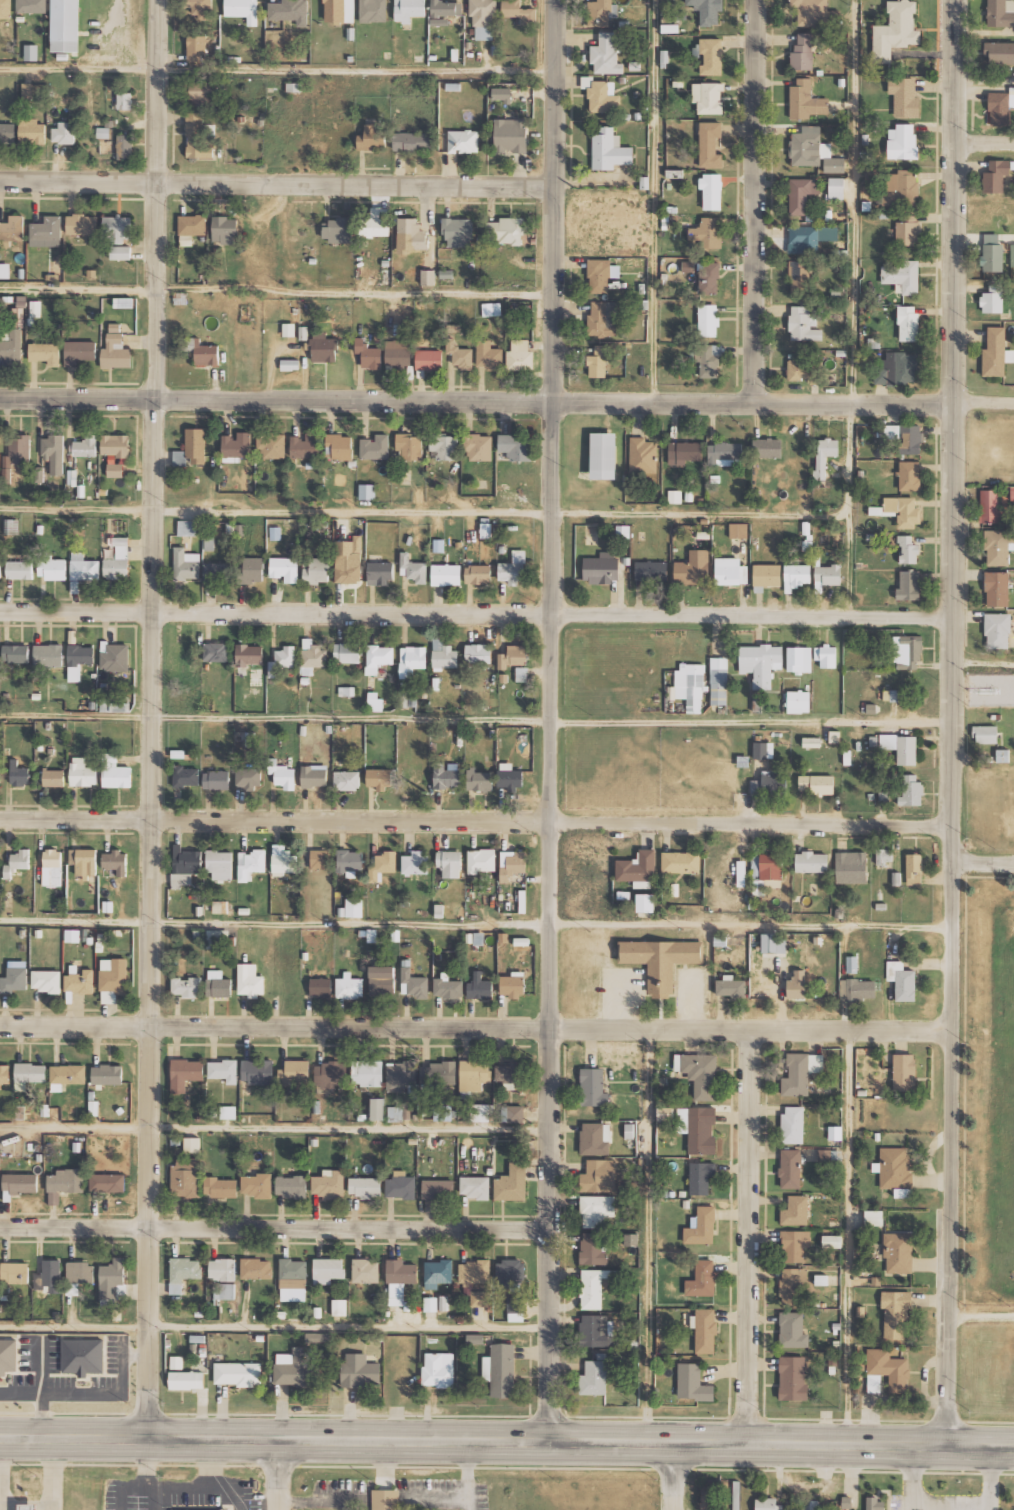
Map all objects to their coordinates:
building: (31, 6)
building: (200, 7)
building: (5, 9)
building: (243, 9)
building: (340, 10)
building: (373, 10)
building: (409, 10)
building: (444, 10)
building: (707, 10)
building: (290, 11)
building: (519, 11)
building: (812, 11)
building: (600, 12)
building: (1001, 12)
building: (483, 18)
building: (65, 25)
building: (896, 30)
building: (196, 48)
building: (803, 52)
building: (1000, 52)
building: (606, 54)
building: (710, 56)
road: (279, 71)
building: (294, 87)
building: (202, 93)
building: (502, 93)
building: (604, 96)
building: (708, 97)
building: (905, 97)
building: (124, 100)
building: (806, 100)
building: (1001, 105)
building: (32, 131)
building: (7, 132)
building: (103, 132)
building: (64, 133)
building: (511, 135)
building: (197, 137)
building: (371, 137)
building: (463, 141)
building: (414, 142)
building: (902, 142)
road: (986, 142)
building: (710, 144)
building: (124, 146)
building: (610, 150)
building: (814, 150)
building: (996, 175)
road: (279, 183)
building: (837, 188)
building: (901, 188)
building: (712, 190)
building: (802, 194)
road: (649, 201)
road: (757, 202)
road: (848, 202)
building: (376, 223)
building: (82, 224)
building: (12, 226)
building: (47, 228)
building: (117, 228)
building: (191, 228)
building: (225, 229)
building: (337, 230)
building: (506, 230)
building: (907, 231)
building: (459, 232)
building: (709, 232)
building: (411, 236)
building: (810, 238)
building: (120, 252)
building: (993, 253)
building: (1012, 255)
building: (5, 270)
building: (799, 275)
building: (903, 275)
building: (599, 276)
building: (428, 277)
building: (710, 278)
road: (278, 292)
building: (993, 300)
building: (124, 302)
building: (35, 309)
building: (491, 309)
building: (602, 319)
building: (708, 320)
building: (909, 323)
building: (804, 324)
building: (305, 333)
building: (10, 347)
building: (116, 349)
building: (324, 349)
building: (201, 351)
building: (80, 352)
building: (398, 352)
building: (46, 353)
building: (996, 353)
building: (369, 354)
building: (460, 354)
building: (489, 355)
building: (520, 356)
building: (429, 359)
building: (709, 360)
building: (598, 362)
building: (290, 364)
building: (805, 368)
building: (897, 369)
road: (477, 400)
road: (984, 403)
building: (892, 432)
building: (911, 439)
building: (272, 444)
building: (115, 445)
building: (196, 446)
building: (306, 446)
building: (410, 446)
building: (444, 446)
building: (515, 446)
building: (86, 447)
building: (236, 447)
building: (339, 447)
building: (375, 447)
building: (479, 447)
building: (768, 448)
building: (16, 453)
building: (54, 453)
building: (684, 453)
building: (725, 454)
building: (643, 455)
building: (825, 455)
building: (604, 456)
building: (115, 470)
building: (910, 475)
building: (368, 491)
building: (1012, 493)
building: (991, 507)
road: (844, 509)
building: (876, 510)
building: (904, 510)
road: (422, 513)
building: (187, 527)
building: (486, 530)
building: (739, 530)
building: (275, 533)
building: (209, 543)
building: (439, 545)
building: (999, 546)
building: (908, 549)
building: (118, 560)
building: (348, 560)
building: (186, 564)
building: (52, 568)
building: (514, 568)
building: (602, 568)
building: (694, 568)
building: (0, 569)
building: (20, 569)
building: (285, 569)
building: (413, 569)
building: (82, 570)
building: (317, 571)
building: (650, 571)
building: (731, 571)
building: (381, 573)
building: (478, 574)
building: (447, 575)
building: (767, 576)
building: (797, 576)
building: (827, 577)
building: (909, 586)
building: (997, 589)
road: (476, 611)
building: (998, 631)
building: (216, 652)
building: (908, 652)
building: (16, 653)
building: (347, 653)
building: (249, 654)
building: (479, 654)
building: (48, 655)
building: (444, 655)
building: (514, 656)
building: (826, 656)
building: (312, 657)
building: (379, 658)
building: (799, 659)
building: (79, 660)
building: (282, 660)
building: (412, 660)
building: (761, 663)
road: (983, 664)
building: (522, 674)
building: (256, 675)
building: (719, 681)
building: (689, 686)
building: (347, 691)
building: (374, 701)
building: (799, 701)
building: (115, 707)
road: (156, 718)
road: (554, 720)
road: (475, 721)
road: (951, 723)
building: (986, 734)
building: (835, 736)
building: (812, 742)
building: (902, 747)
building: (761, 750)
building: (116, 772)
building: (82, 773)
building: (19, 774)
building: (283, 774)
building: (186, 776)
building: (314, 776)
building: (248, 777)
building: (447, 777)
building: (510, 777)
building: (0, 778)
building: (54, 778)
building: (380, 779)
building: (216, 780)
building: (347, 780)
building: (479, 781)
building: (775, 784)
building: (818, 784)
building: (912, 791)
road: (474, 822)
building: (884, 855)
building: (283, 859)
building: (319, 859)
building: (84, 861)
building: (482, 861)
building: (681, 861)
building: (812, 861)
building: (116, 862)
building: (350, 862)
building: (18, 863)
building: (415, 863)
building: (450, 863)
road: (983, 863)
building: (251, 864)
building: (512, 864)
building: (220, 865)
building: (384, 865)
building: (637, 866)
building: (771, 866)
building: (852, 866)
building: (52, 868)
building: (915, 869)
building: (742, 873)
building: (897, 877)
building: (761, 886)
building: (646, 903)
building: (881, 905)
building: (220, 907)
building: (354, 908)
road: (276, 925)
road: (752, 926)
building: (73, 936)
building: (475, 938)
building: (504, 938)
building: (218, 939)
building: (521, 944)
building: (774, 944)
building: (662, 960)
building: (114, 975)
building: (15, 977)
building: (79, 980)
building: (382, 980)
building: (46, 981)
building: (251, 981)
building: (902, 981)
building: (413, 982)
building: (218, 984)
building: (514, 985)
building: (797, 985)
building: (186, 987)
building: (350, 987)
building: (448, 987)
building: (480, 987)
building: (731, 987)
building: (321, 988)
building: (858, 989)
road: (476, 1027)
building: (224, 1070)
building: (257, 1071)
building: (295, 1072)
building: (367, 1072)
building: (801, 1072)
building: (186, 1073)
building: (438, 1073)
building: (700, 1073)
building: (904, 1073)
building: (29, 1074)
building: (107, 1074)
building: (328, 1074)
building: (512, 1074)
building: (5, 1075)
building: (475, 1075)
building: (66, 1076)
building: (593, 1087)
park: (985, 1095)
building: (378, 1108)
building: (228, 1112)
building: (481, 1112)
building: (399, 1113)
building: (444, 1113)
building: (516, 1113)
building: (665, 1113)
building: (793, 1124)
building: (698, 1128)
road: (275, 1130)
building: (835, 1132)
building: (596, 1139)
building: (192, 1144)
building: (791, 1168)
building: (896, 1170)
building: (185, 1176)
building: (600, 1176)
building: (701, 1177)
building: (107, 1182)
building: (20, 1183)
building: (65, 1183)
building: (512, 1183)
building: (329, 1184)
building: (257, 1185)
building: (401, 1185)
building: (291, 1186)
building: (221, 1187)
building: (365, 1187)
building: (475, 1187)
building: (438, 1188)
building: (596, 1210)
building: (796, 1210)
building: (874, 1217)
road: (275, 1225)
building: (702, 1227)
road: (642, 1235)
road: (748, 1237)
road: (844, 1237)
building: (631, 1239)
building: (832, 1241)
building: (796, 1245)
building: (594, 1248)
building: (899, 1252)
building: (256, 1268)
building: (222, 1269)
building: (328, 1270)
building: (366, 1271)
building: (15, 1272)
building: (184, 1272)
building: (438, 1273)
building: (473, 1273)
building: (78, 1276)
building: (49, 1277)
building: (702, 1279)
building: (113, 1280)
building: (293, 1280)
building: (400, 1280)
building: (822, 1280)
building: (793, 1285)
building: (595, 1286)
building: (224, 1292)
building: (480, 1298)
building: (443, 1303)
building: (431, 1304)
building: (339, 1307)
building: (516, 1309)
building: (895, 1312)
road: (982, 1314)
road: (274, 1329)
building: (595, 1330)
building: (705, 1330)
building: (793, 1330)
building: (475, 1338)
building: (8, 1356)
building: (83, 1356)
building: (176, 1362)
building: (294, 1369)
building: (500, 1369)
building: (360, 1370)
building: (437, 1371)
building: (887, 1371)
building: (238, 1374)
building: (594, 1378)
building: (793, 1378)
building: (187, 1380)
building: (693, 1383)
road: (474, 1440)
road: (981, 1446)
road: (281, 1474)
road: (675, 1476)
building: (385, 1499)
building: (847, 1501)
building: (879, 1503)
building: (768, 1504)
building: (810, 1504)
building: (28, 1506)

